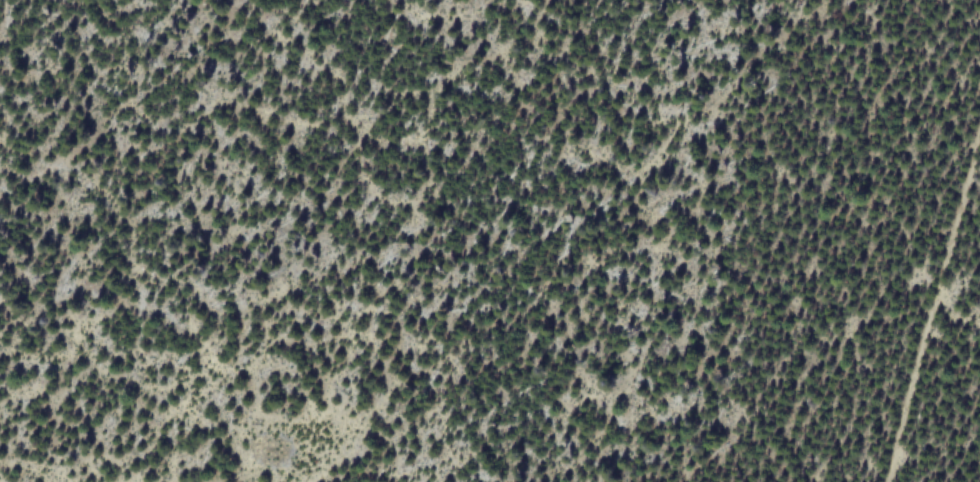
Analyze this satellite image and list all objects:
road: (933, 304)

